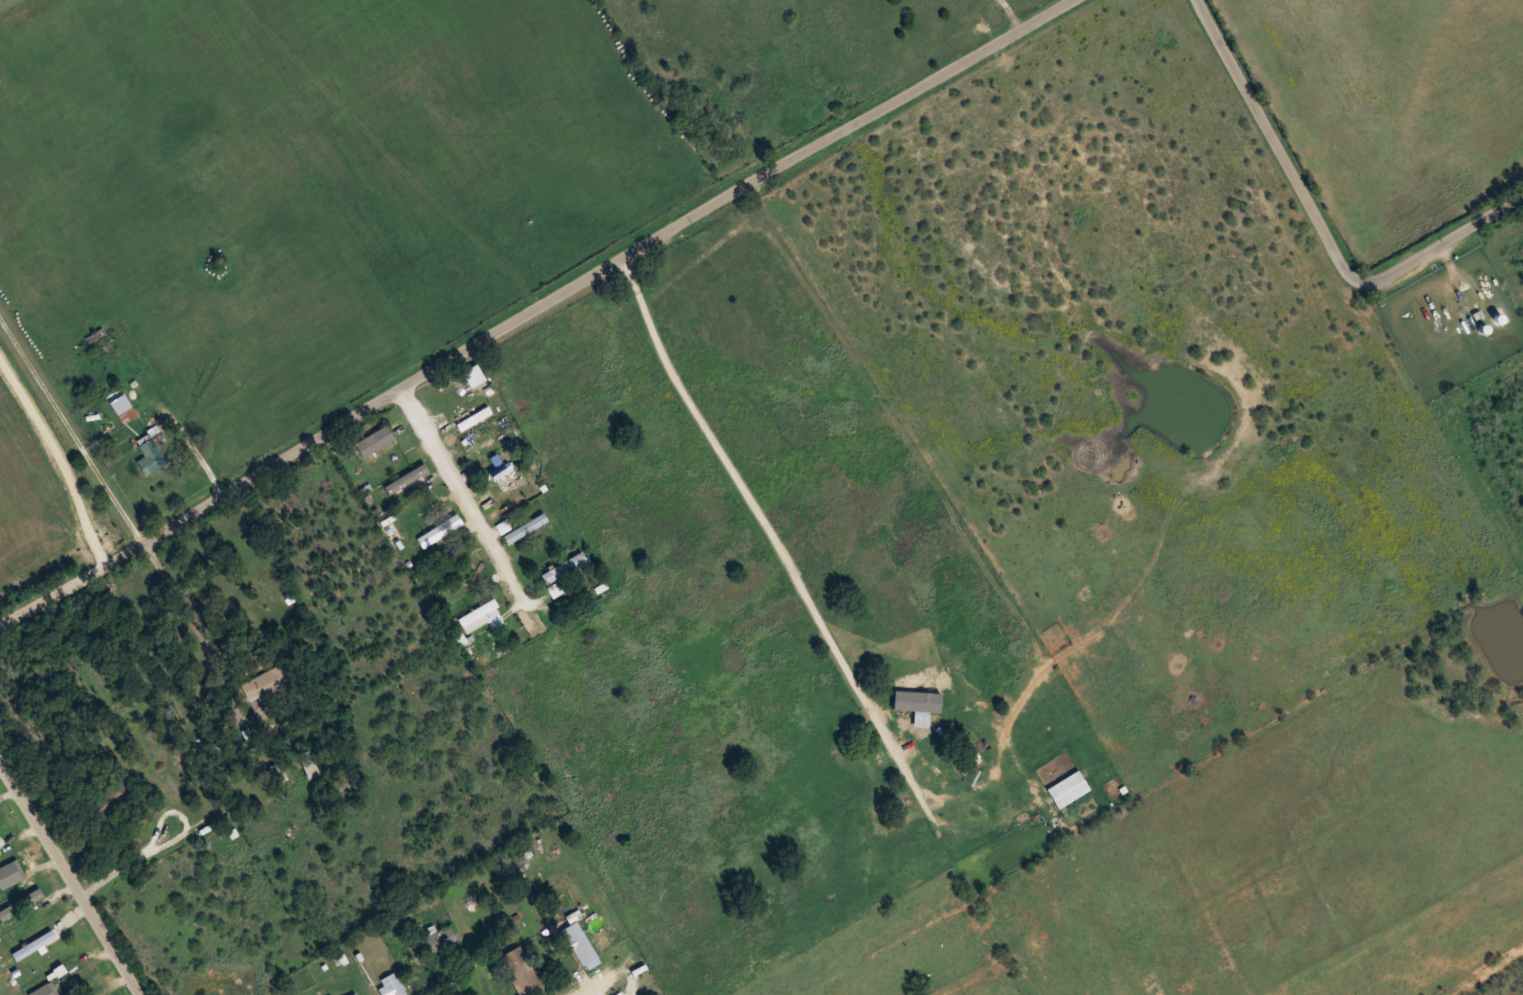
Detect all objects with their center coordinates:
road: (1106, 3)
road: (146, 230)
road: (1310, 246)
road: (551, 301)
building: (1499, 318)
building: (100, 342)
building: (474, 376)
road: (1093, 392)
building: (119, 401)
building: (474, 418)
building: (375, 441)
building: (152, 456)
building: (404, 480)
road: (481, 503)
building: (440, 530)
building: (457, 552)
building: (562, 572)
building: (484, 615)
building: (270, 682)
building: (916, 720)
building: (310, 767)
building: (1069, 789)
road: (6, 812)
building: (1, 842)
building: (9, 869)
building: (21, 878)
road: (64, 892)
building: (18, 908)
building: (437, 941)
building: (579, 943)
building: (35, 945)
road: (666, 948)
building: (391, 985)
building: (355, 994)

